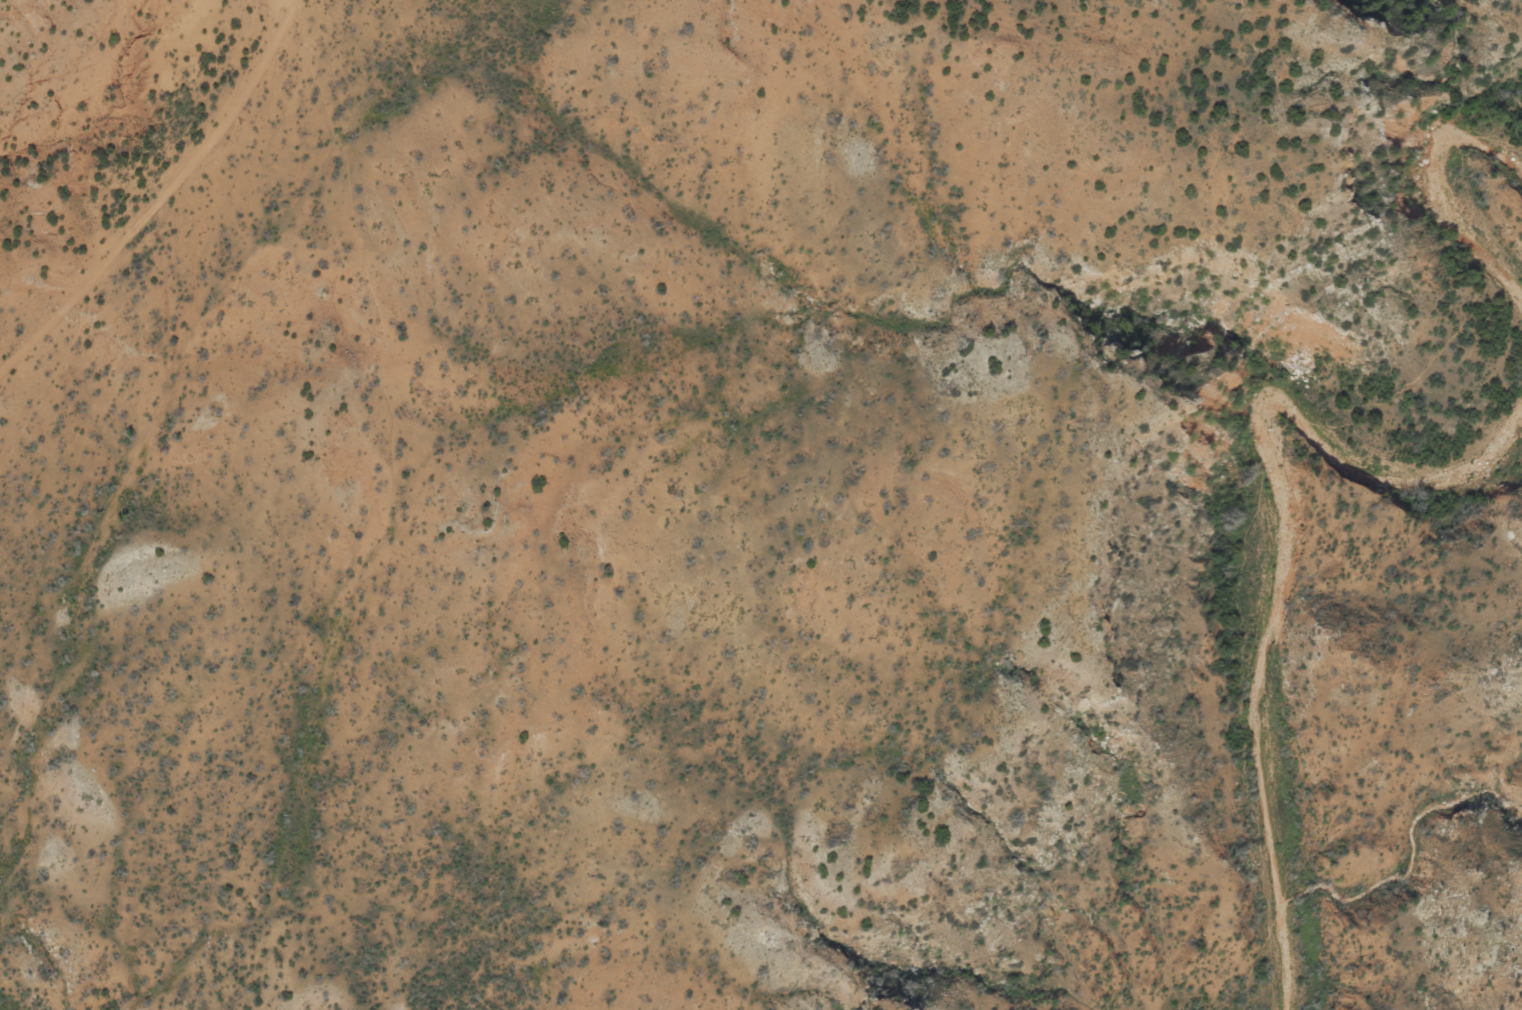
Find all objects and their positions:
road: (243, 321)

